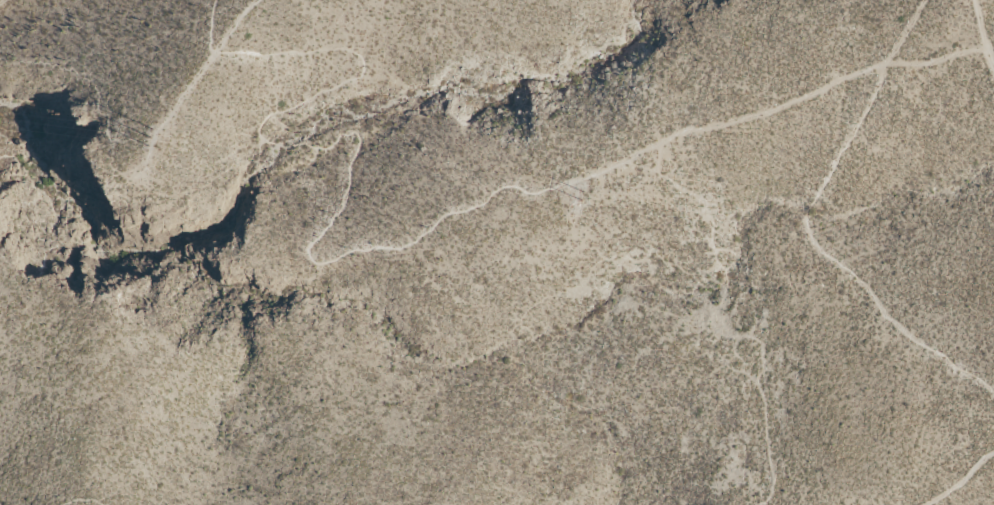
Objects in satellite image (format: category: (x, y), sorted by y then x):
road: (2, 1)
road: (984, 30)
road: (198, 81)
road: (800, 229)
road: (405, 242)
road: (959, 479)

